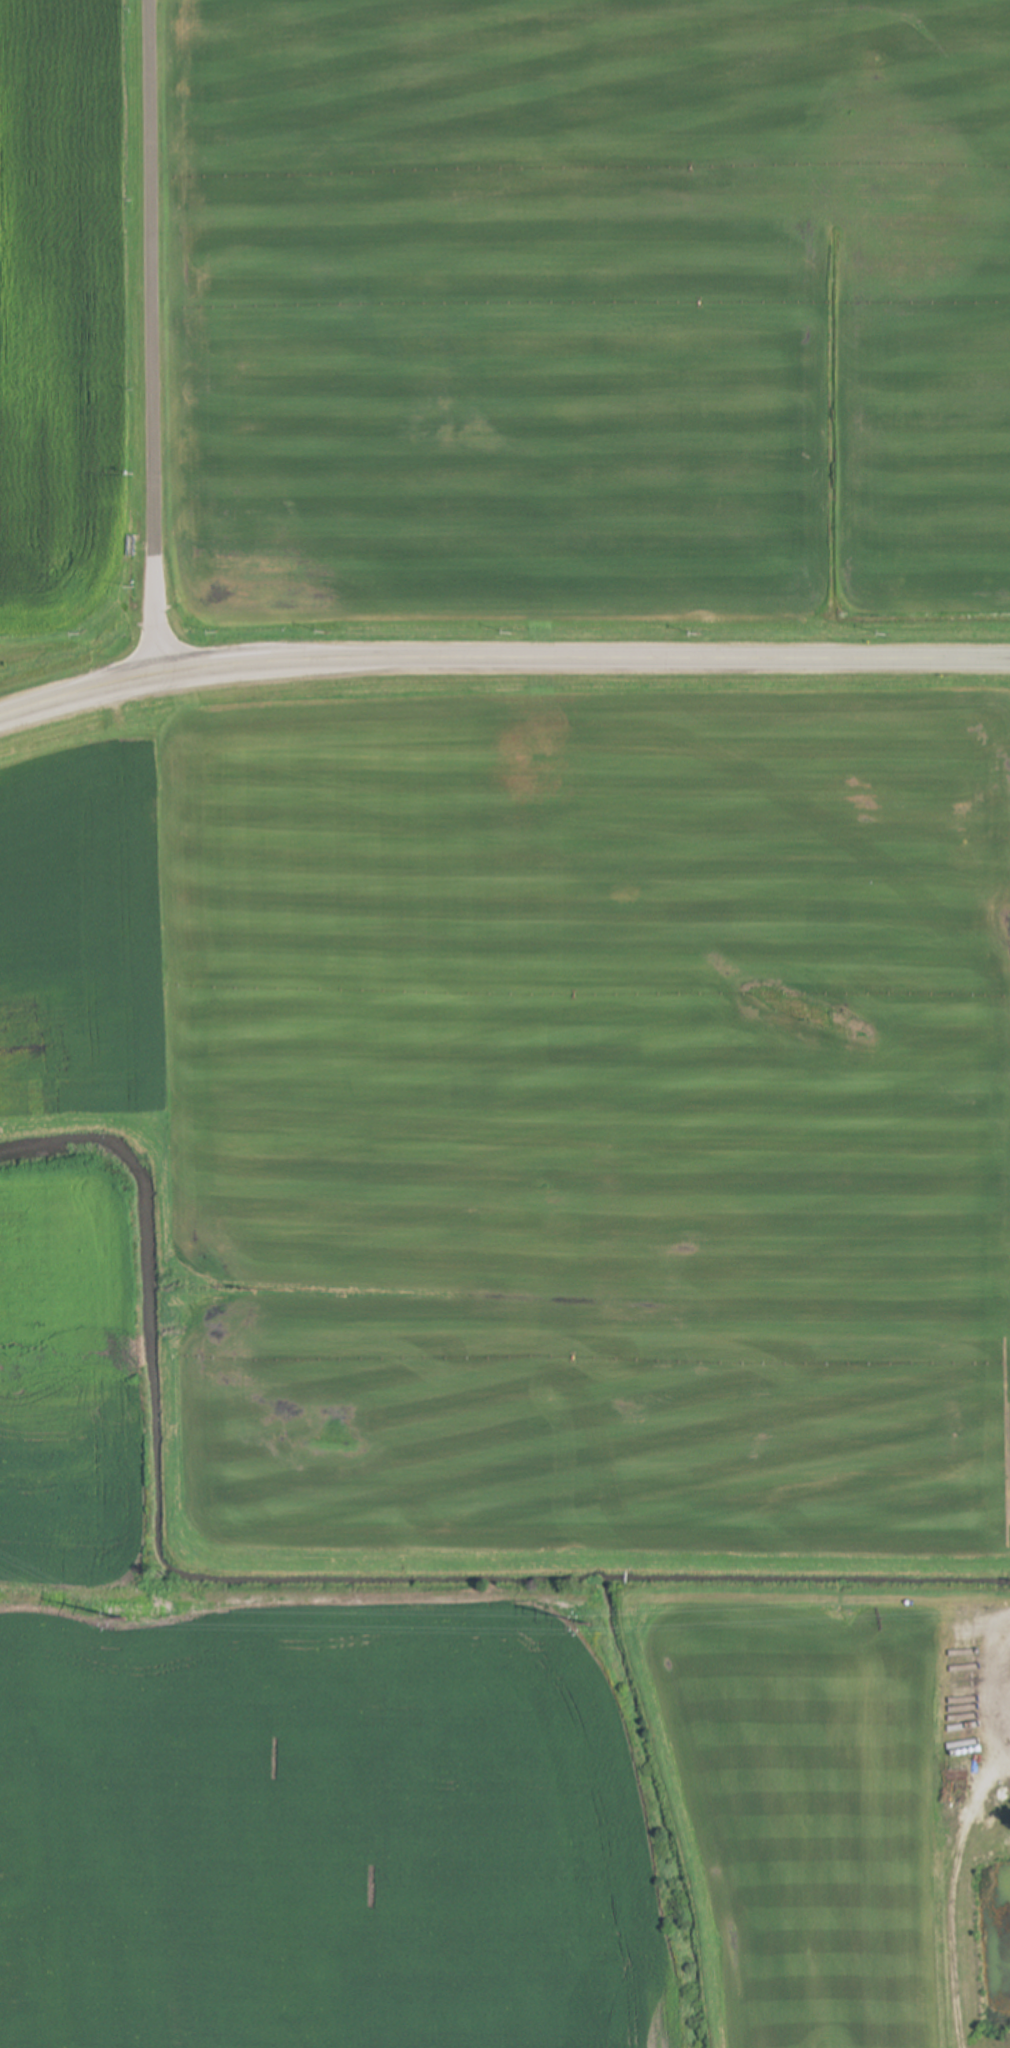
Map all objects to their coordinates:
road: (152, 338)
road: (501, 659)
power tower: (121, 1618)
power tower: (589, 1624)

